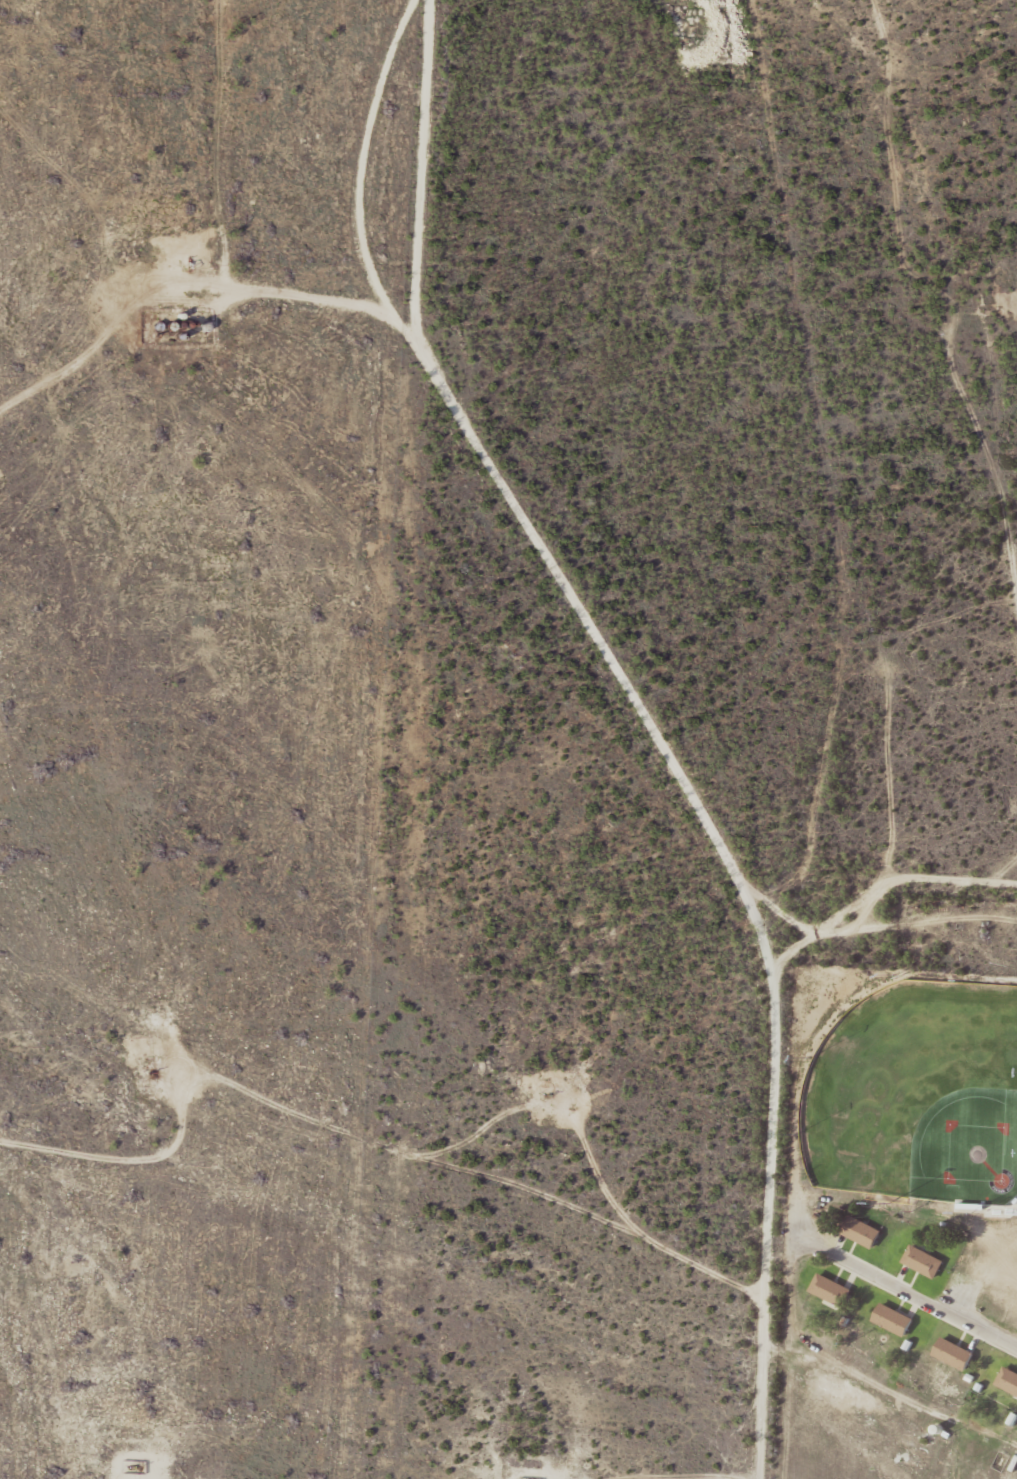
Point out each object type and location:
road: (946, 272)
road: (630, 716)
park: (920, 1092)
building: (862, 1231)
building: (925, 1261)
building: (832, 1290)
road: (899, 1304)
building: (894, 1319)
building: (955, 1353)
building: (1009, 1379)

